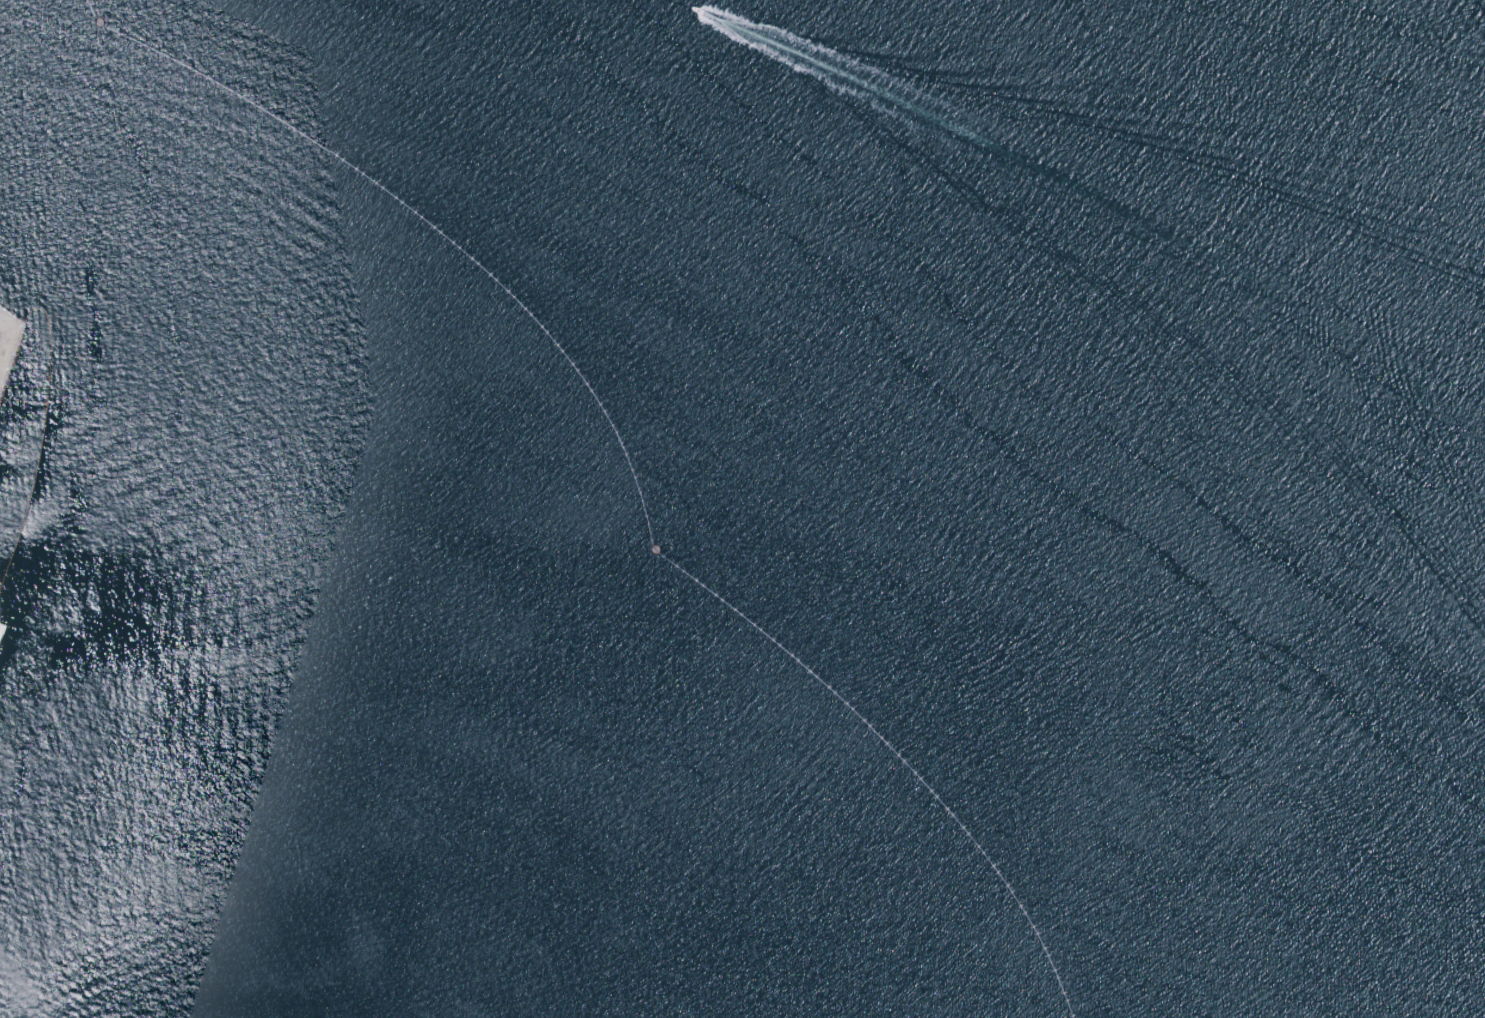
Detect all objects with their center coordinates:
airport: (340, 643)

